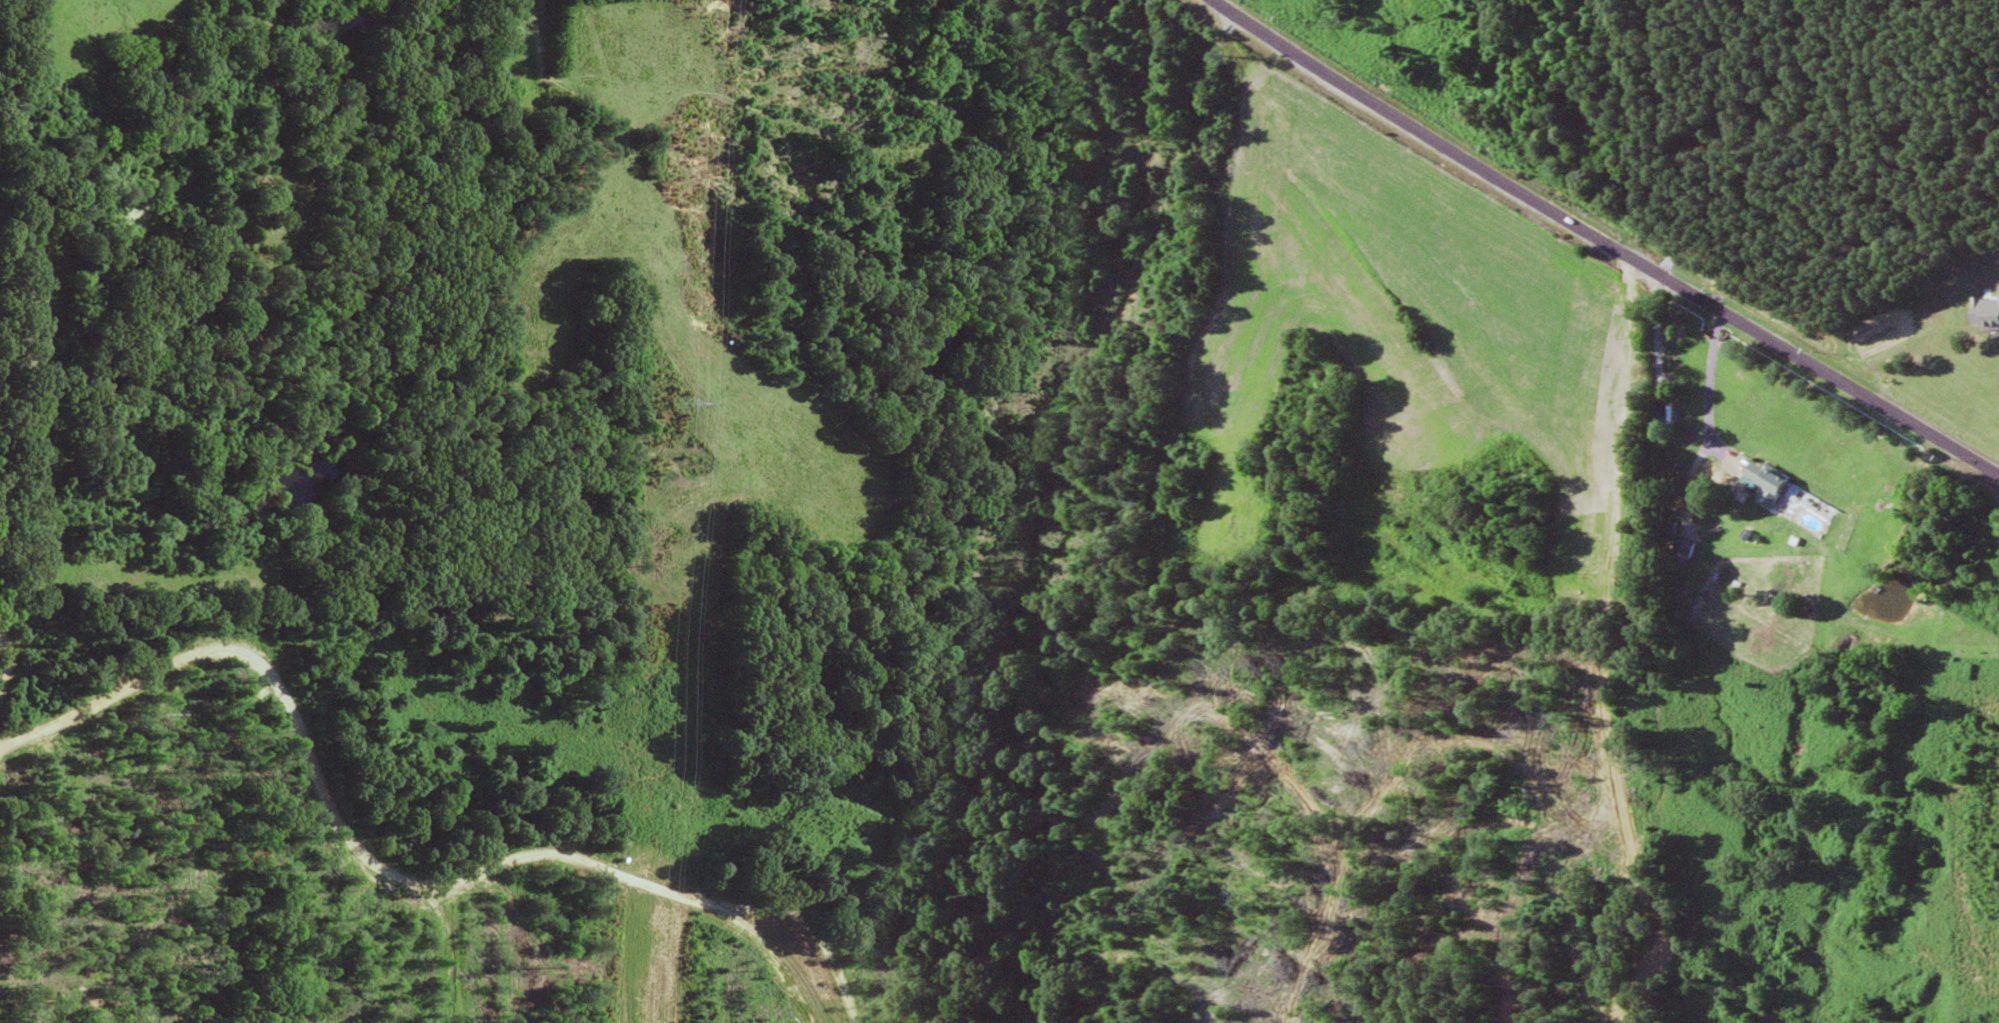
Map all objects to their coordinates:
road: (1608, 239)
road: (1714, 378)
power tower: (688, 403)
building: (1770, 483)
building: (1682, 554)

